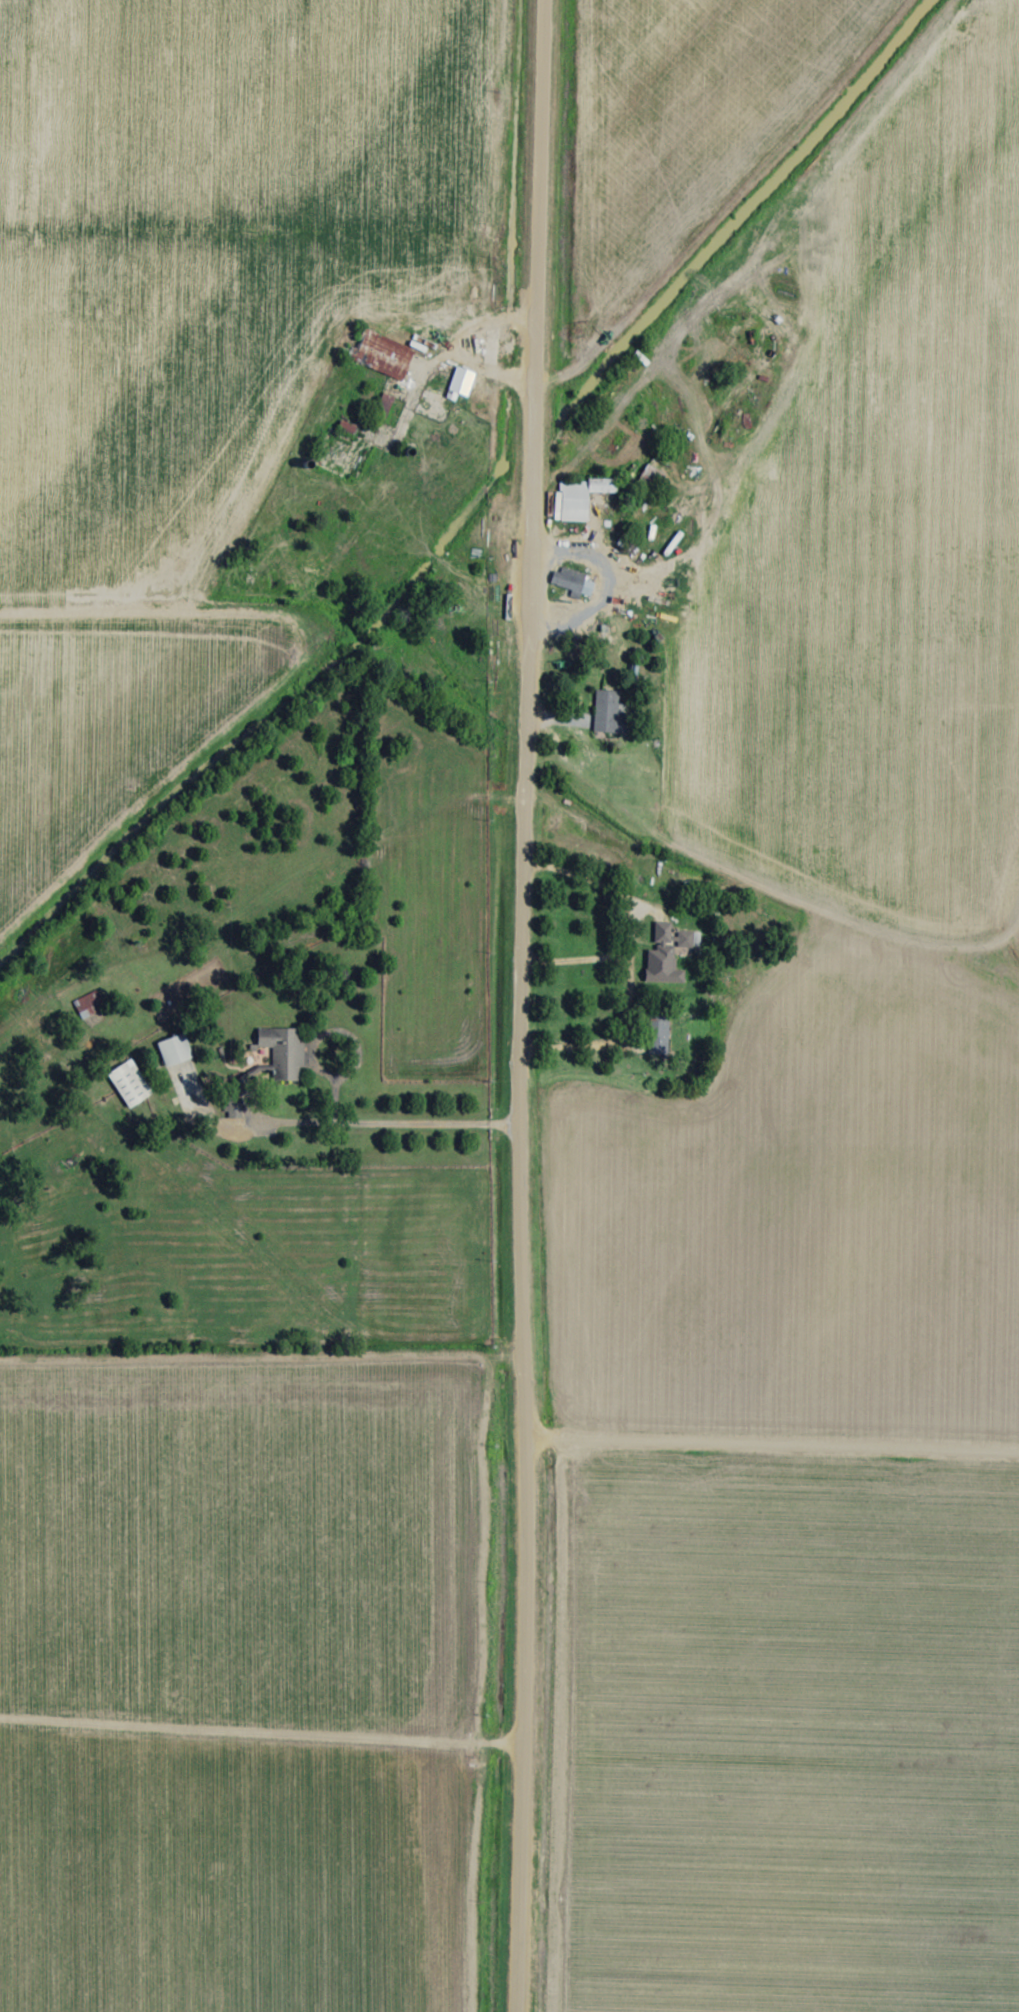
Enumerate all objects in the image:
road: (441, 352)
building: (384, 354)
road: (773, 376)
building: (463, 381)
building: (656, 474)
building: (584, 495)
building: (570, 578)
road: (142, 620)
building: (611, 713)
building: (671, 944)
road: (522, 1005)
road: (627, 1023)
building: (662, 1038)
building: (178, 1049)
building: (132, 1084)
road: (384, 1125)
road: (767, 1446)

